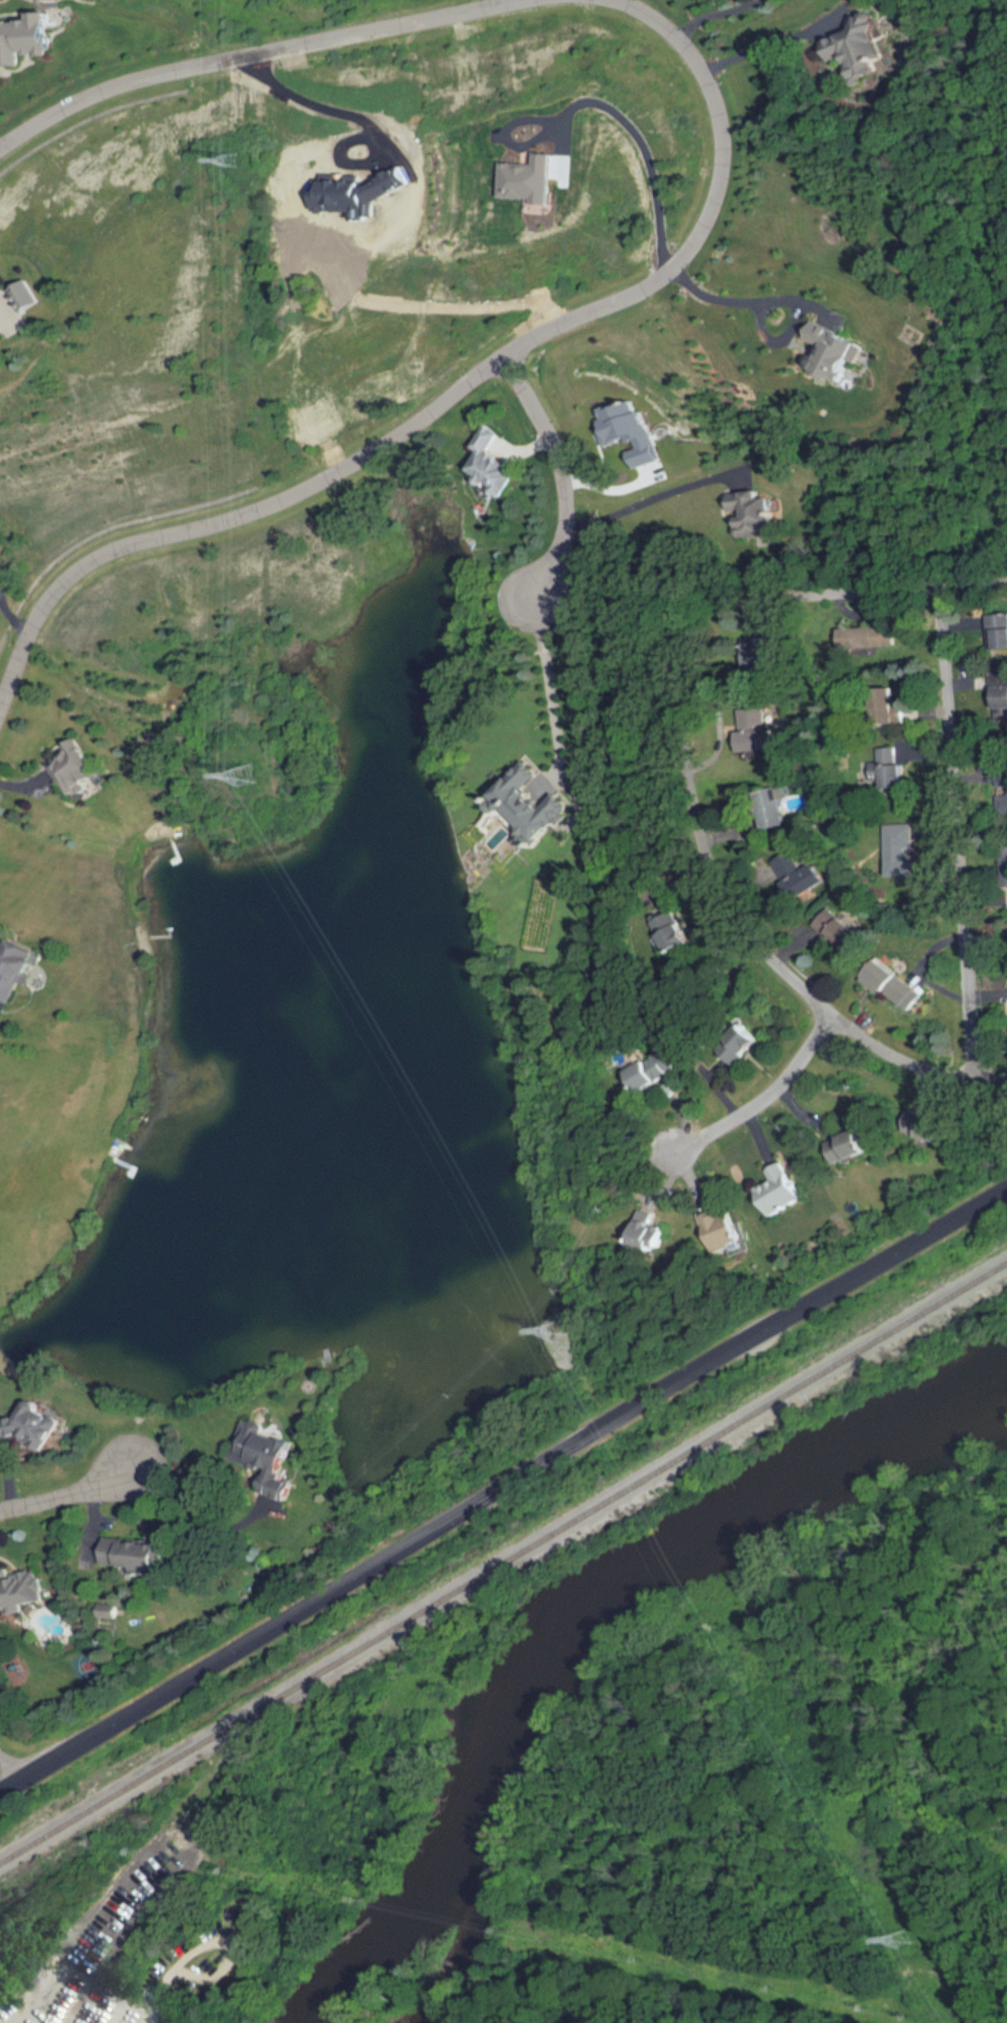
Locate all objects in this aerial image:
road: (709, 21)
building: (857, 47)
road: (256, 53)
road: (755, 56)
road: (306, 106)
road: (634, 144)
power tower: (234, 162)
road: (7, 301)
road: (730, 301)
building: (0, 345)
road: (468, 380)
building: (487, 463)
road: (559, 472)
road: (650, 503)
building: (750, 512)
road: (837, 585)
road: (9, 623)
building: (996, 631)
building: (873, 637)
building: (761, 652)
road: (555, 685)
building: (999, 699)
building: (752, 734)
building: (882, 769)
building: (66, 770)
power tower: (251, 776)
building: (534, 802)
building: (767, 808)
road: (957, 830)
building: (899, 849)
building: (793, 875)
road: (736, 914)
building: (838, 930)
building: (670, 932)
building: (13, 969)
building: (895, 985)
building: (727, 1053)
building: (648, 1074)
road: (991, 1078)
road: (767, 1096)
building: (923, 1125)
building: (850, 1147)
building: (780, 1190)
building: (721, 1228)
building: (644, 1229)
power tower: (553, 1331)
park: (882, 1383)
building: (32, 1426)
building: (274, 1466)
road: (503, 1490)
road: (61, 1496)
road: (191, 1512)
building: (133, 1555)
railway: (504, 1564)
building: (20, 1591)
river: (579, 1623)
road: (7, 1775)
power tower: (899, 1940)

